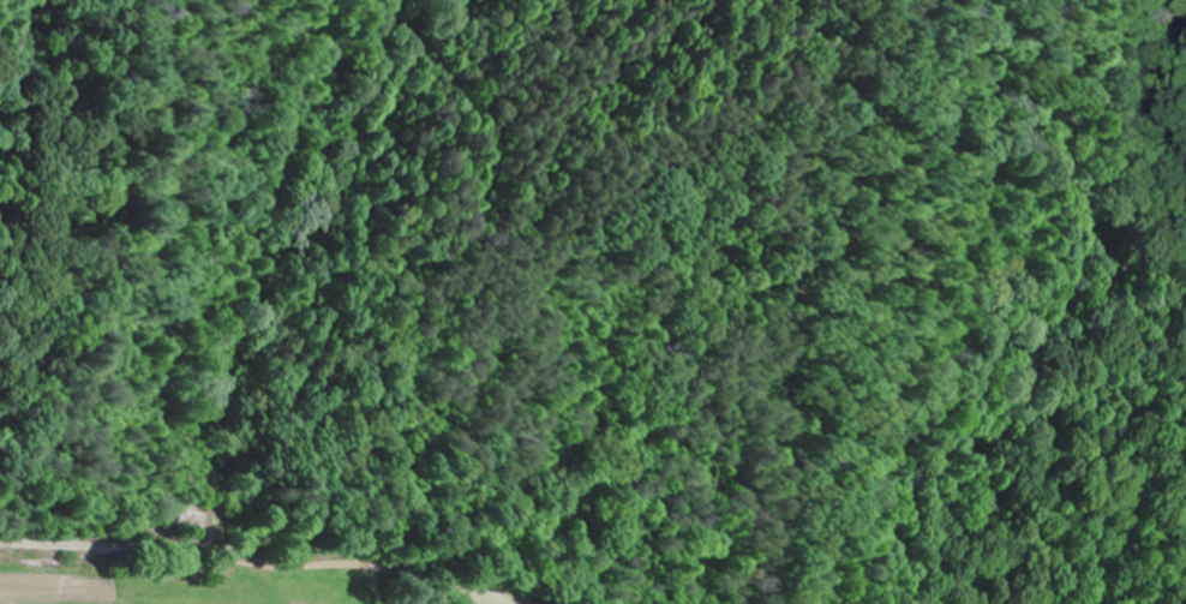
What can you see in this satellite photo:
road: (49, 546)

